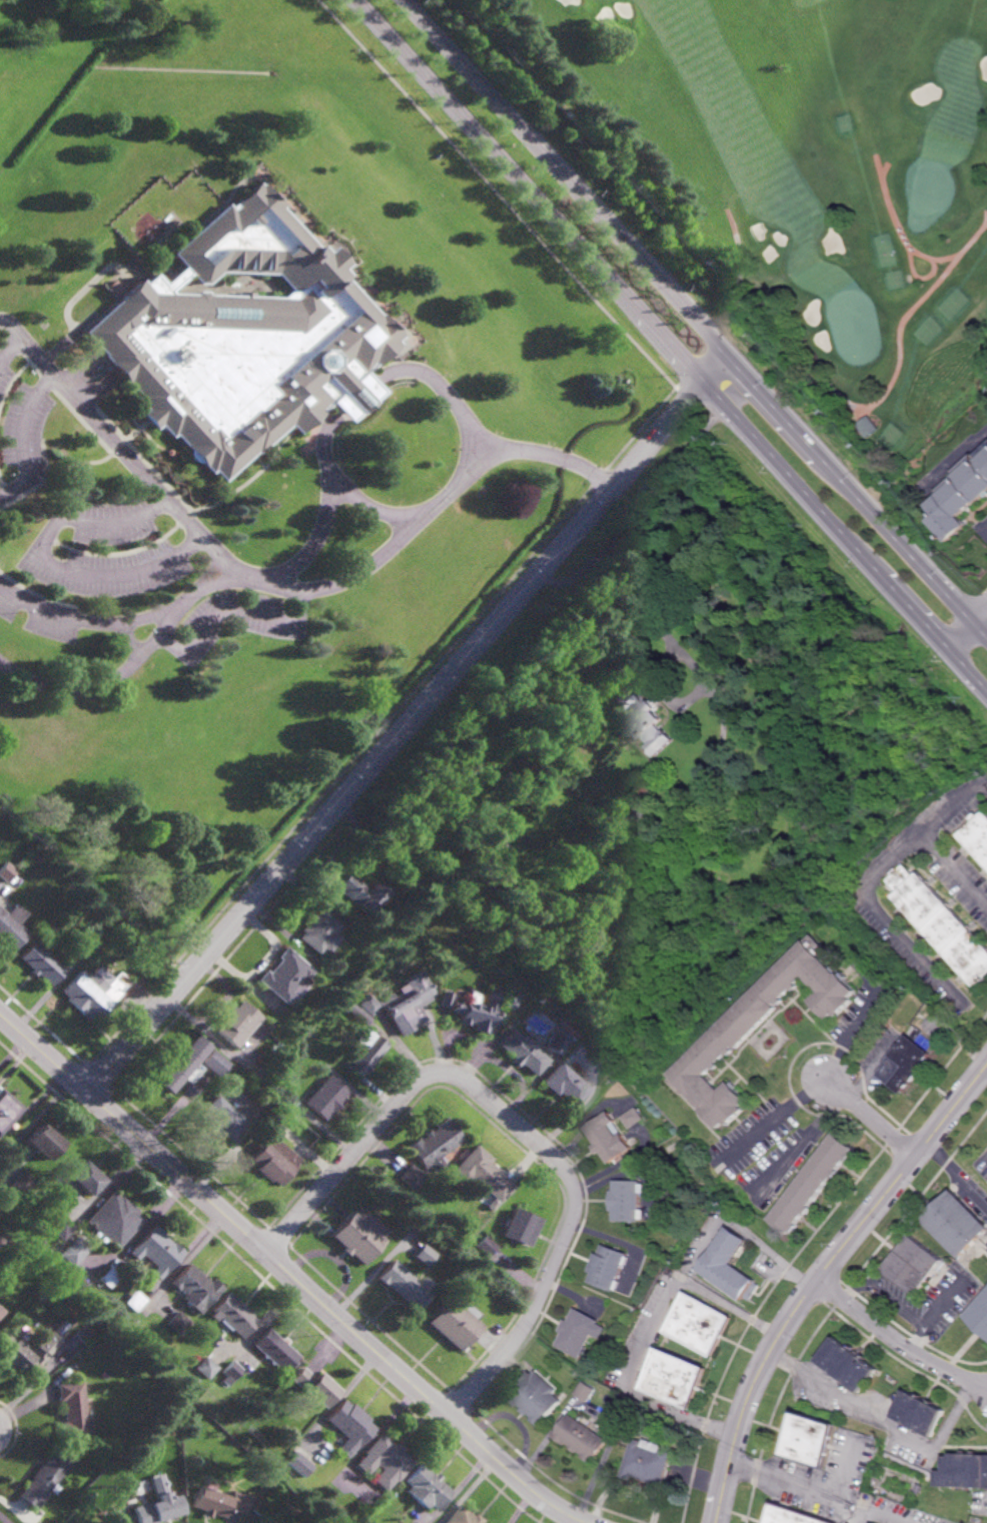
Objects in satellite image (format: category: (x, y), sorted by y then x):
building: (595, 134)
park: (792, 177)
road: (496, 194)
road: (540, 203)
road: (906, 244)
road: (964, 248)
road: (694, 317)
building: (243, 338)
road: (10, 349)
road: (741, 394)
road: (839, 395)
road: (335, 409)
road: (641, 428)
building: (871, 429)
parking lot: (21, 431)
road: (23, 441)
building: (169, 451)
road: (958, 459)
road: (661, 480)
building: (962, 495)
road: (370, 511)
road: (986, 529)
road: (857, 547)
parking lot: (103, 549)
road: (47, 562)
road: (279, 586)
road: (627, 586)
road: (178, 603)
parking lot: (35, 613)
road: (230, 613)
road: (57, 618)
road: (965, 621)
parking lot: (231, 622)
road: (969, 640)
road: (128, 641)
road: (104, 681)
building: (643, 719)
road: (406, 722)
building: (620, 816)
road: (928, 836)
building: (979, 837)
building: (6, 872)
building: (360, 891)
road: (887, 917)
building: (943, 923)
building: (12, 927)
building: (320, 931)
building: (90, 941)
building: (40, 962)
building: (285, 974)
building: (94, 990)
building: (509, 998)
building: (445, 999)
building: (403, 1002)
building: (478, 1007)
building: (358, 1012)
building: (237, 1023)
building: (761, 1025)
road: (857, 1033)
building: (581, 1041)
building: (554, 1043)
building: (365, 1051)
building: (523, 1051)
building: (911, 1060)
building: (215, 1062)
building: (183, 1063)
road: (872, 1078)
building: (562, 1083)
building: (325, 1096)
building: (7, 1108)
building: (220, 1117)
building: (634, 1117)
road: (776, 1119)
road: (876, 1120)
road: (519, 1128)
road: (279, 1129)
building: (611, 1137)
building: (42, 1141)
building: (433, 1143)
road: (807, 1143)
road: (225, 1149)
building: (271, 1160)
building: (481, 1174)
road: (959, 1174)
building: (81, 1177)
building: (411, 1177)
building: (20, 1184)
building: (815, 1184)
building: (629, 1200)
building: (111, 1220)
building: (961, 1222)
building: (519, 1226)
building: (59, 1227)
building: (358, 1235)
road: (754, 1236)
building: (1, 1241)
building: (484, 1246)
building: (73, 1250)
building: (154, 1251)
building: (424, 1254)
building: (920, 1265)
building: (733, 1266)
building: (610, 1267)
road: (288, 1274)
building: (107, 1277)
road: (822, 1280)
building: (405, 1285)
building: (194, 1288)
building: (134, 1301)
building: (1, 1311)
road: (910, 1314)
building: (233, 1315)
building: (981, 1315)
building: (93, 1317)
building: (455, 1322)
building: (178, 1323)
building: (704, 1324)
building: (581, 1333)
road: (652, 1337)
road: (900, 1342)
building: (43, 1347)
building: (275, 1350)
building: (853, 1365)
building: (207, 1368)
building: (230, 1372)
building: (679, 1379)
building: (315, 1387)
building: (589, 1392)
building: (539, 1398)
building: (622, 1410)
building: (73, 1411)
building: (924, 1415)
road: (519, 1421)
road: (886, 1424)
building: (350, 1426)
road: (4, 1429)
building: (584, 1439)
building: (816, 1442)
building: (385, 1461)
building: (300, 1464)
building: (651, 1464)
road: (848, 1469)
building: (964, 1472)
building: (261, 1475)
building: (46, 1478)
building: (275, 1482)
building: (427, 1488)
road: (799, 1488)
building: (921, 1490)
building: (221, 1502)
building: (159, 1509)
road: (879, 1514)
building: (795, 1516)
building: (463, 1517)
building: (97, 1522)

